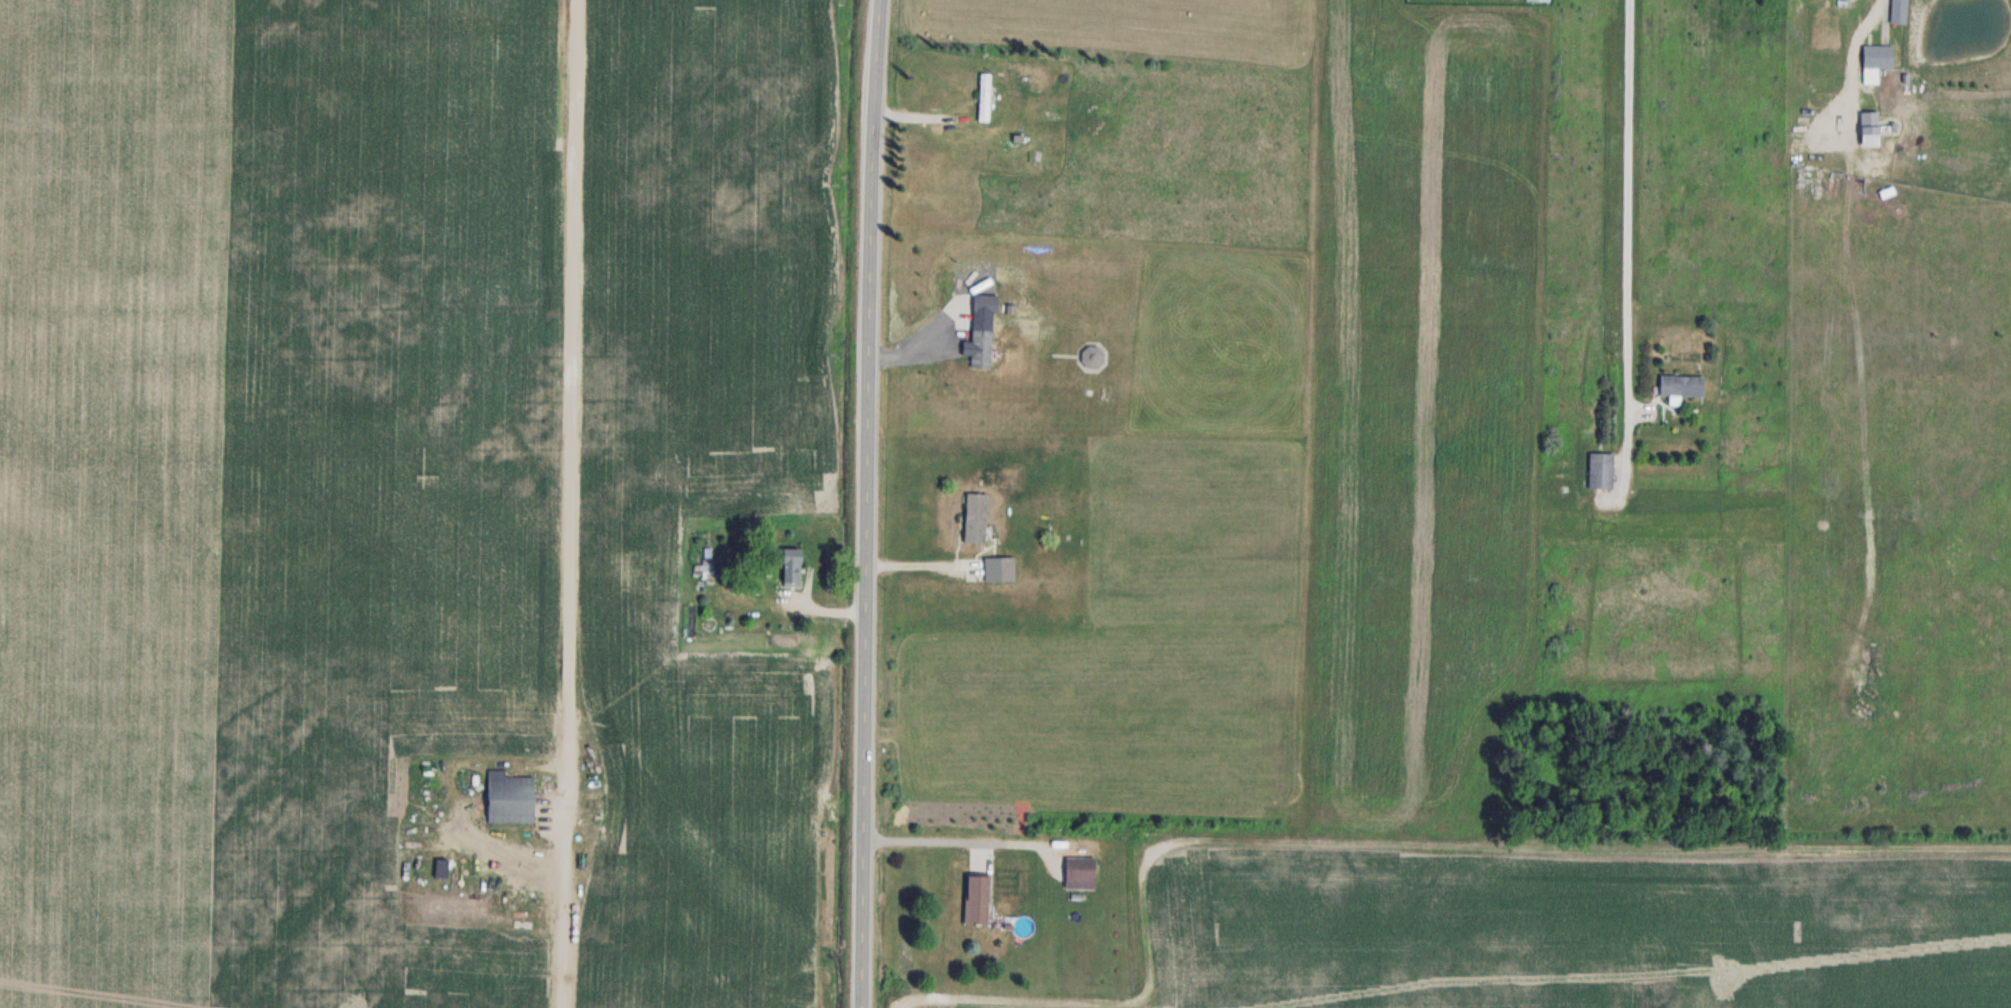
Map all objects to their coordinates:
building: (1844, 2)
building: (1878, 56)
building: (985, 96)
road: (1625, 205)
building: (985, 302)
building: (981, 347)
building: (1682, 384)
building: (1601, 469)
road: (866, 503)
building: (975, 517)
building: (791, 566)
building: (999, 568)
building: (511, 798)
road: (958, 841)
building: (441, 867)
building: (1079, 872)
building: (977, 899)

